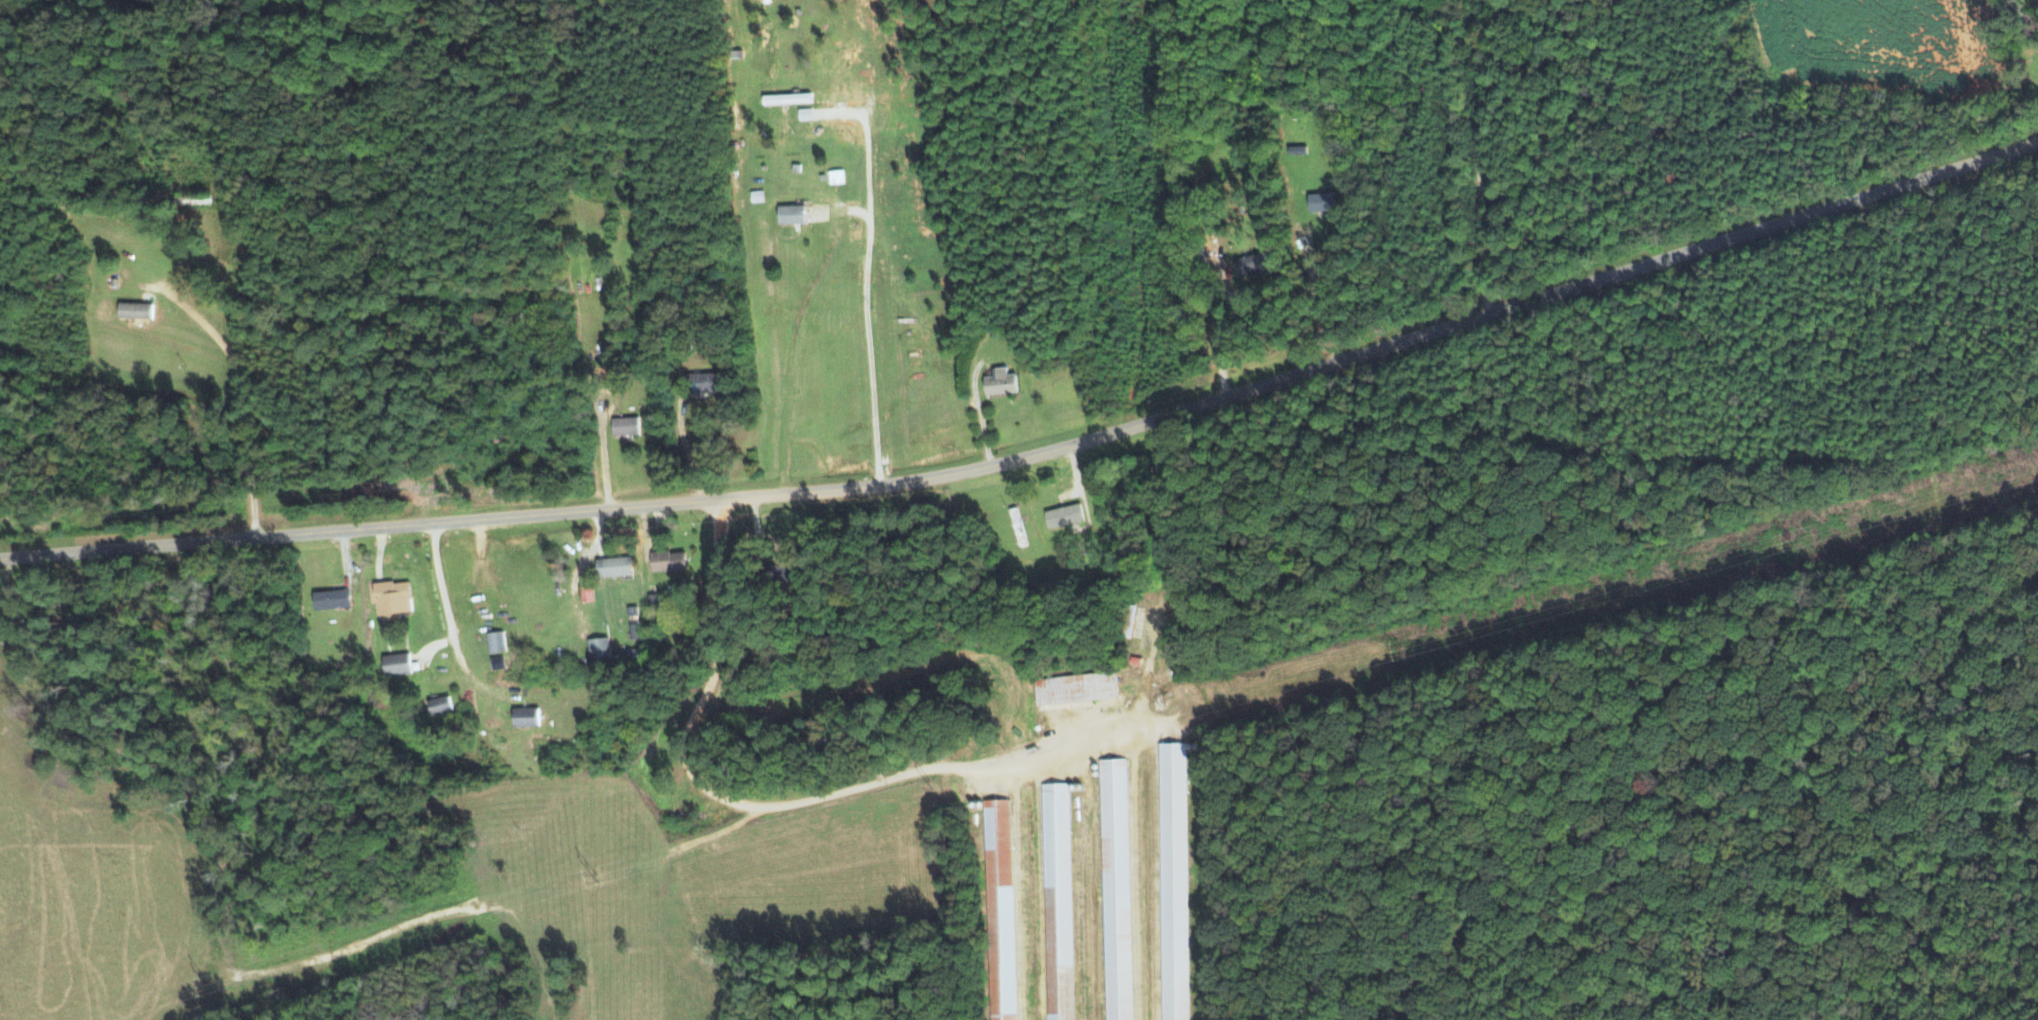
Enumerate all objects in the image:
building: (785, 98)
road: (1479, 157)
building: (836, 177)
building: (757, 196)
building: (1322, 201)
building: (791, 214)
building: (1253, 264)
building: (135, 310)
road: (864, 354)
building: (1000, 382)
building: (707, 384)
road: (242, 423)
building: (625, 426)
road: (1039, 456)
building: (1064, 515)
power tower: (1790, 542)
building: (668, 561)
building: (613, 566)
building: (781, 573)
building: (587, 593)
building: (392, 597)
road: (443, 598)
building: (331, 599)
building: (654, 602)
building: (634, 632)
building: (496, 642)
building: (599, 648)
power tower: (1398, 652)
building: (498, 662)
building: (396, 664)
building: (1076, 688)
building: (440, 706)
building: (525, 717)
power tower: (928, 782)
road: (869, 784)
power tower: (593, 876)
building: (1172, 882)
building: (1114, 889)
building: (1056, 901)
building: (998, 910)
power tower: (206, 986)

